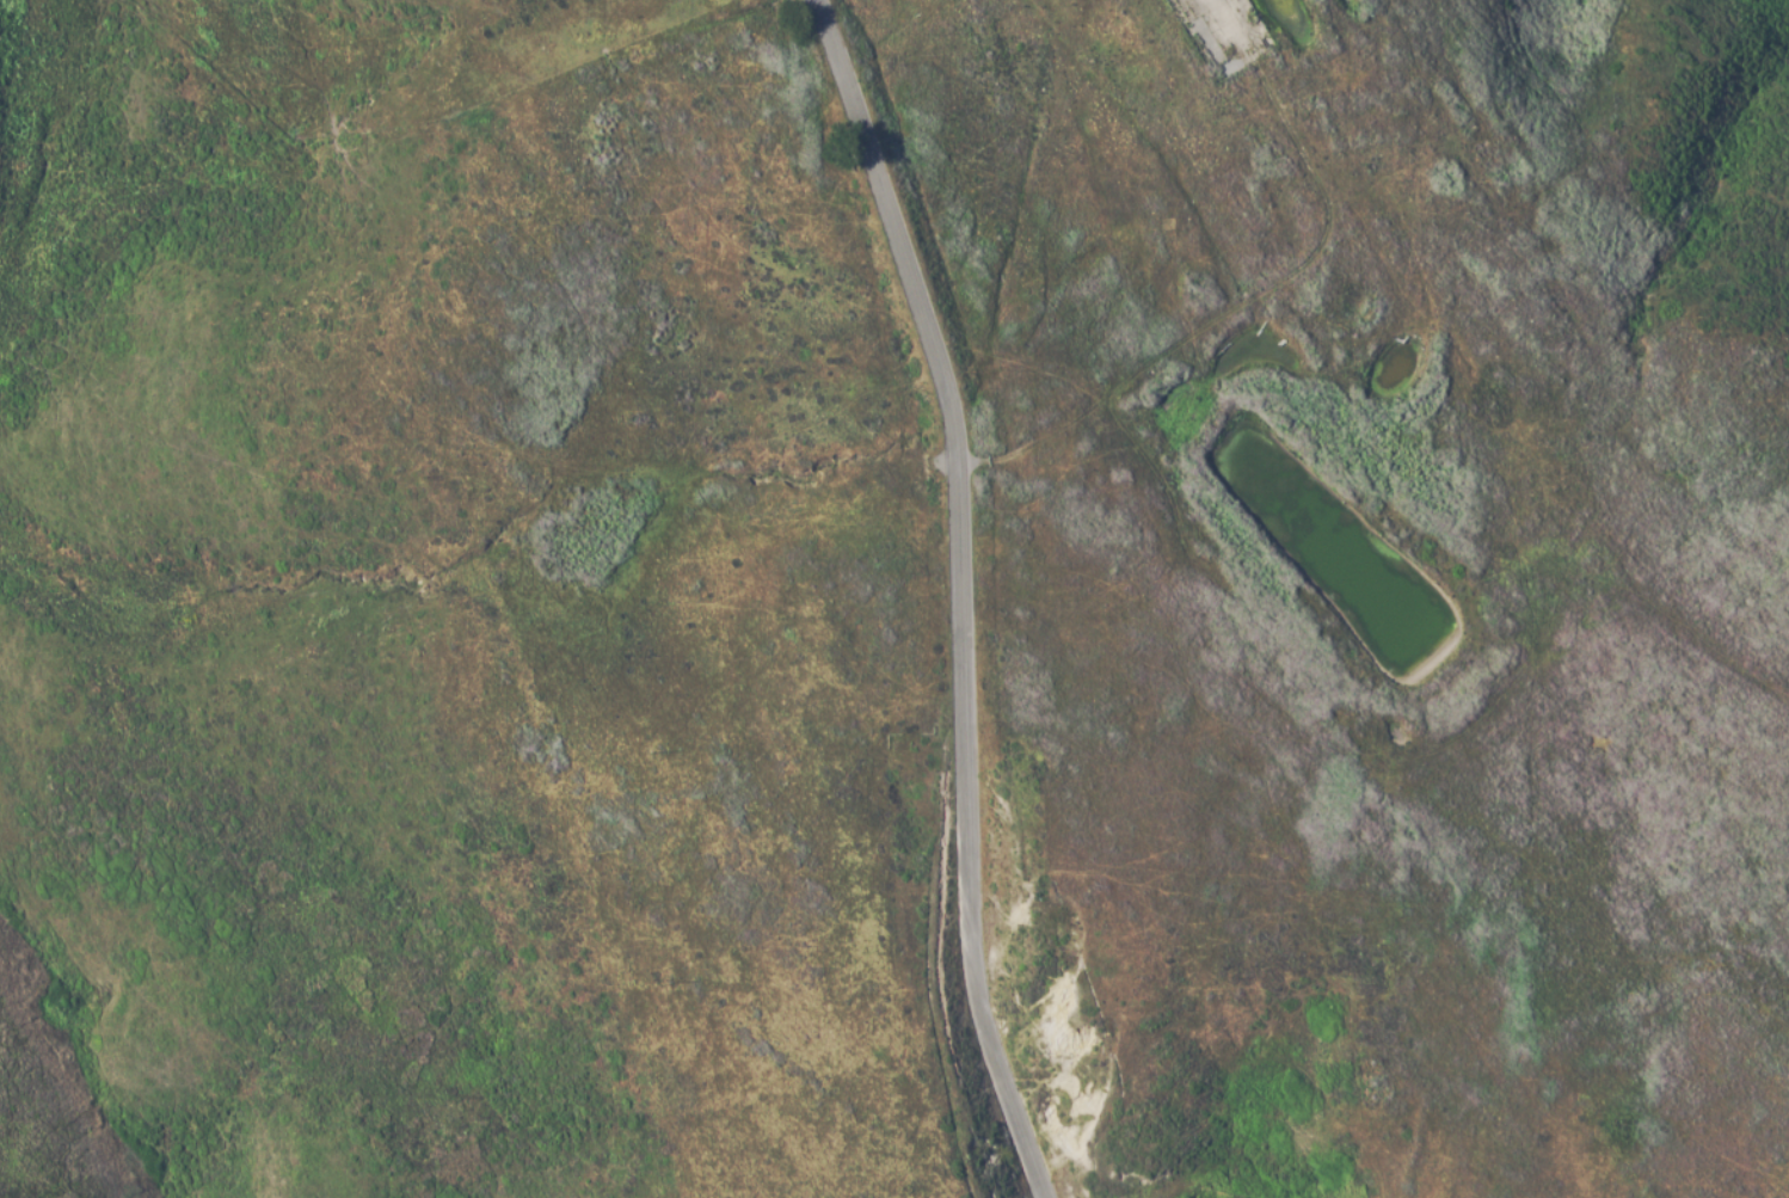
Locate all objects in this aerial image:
road: (961, 592)

